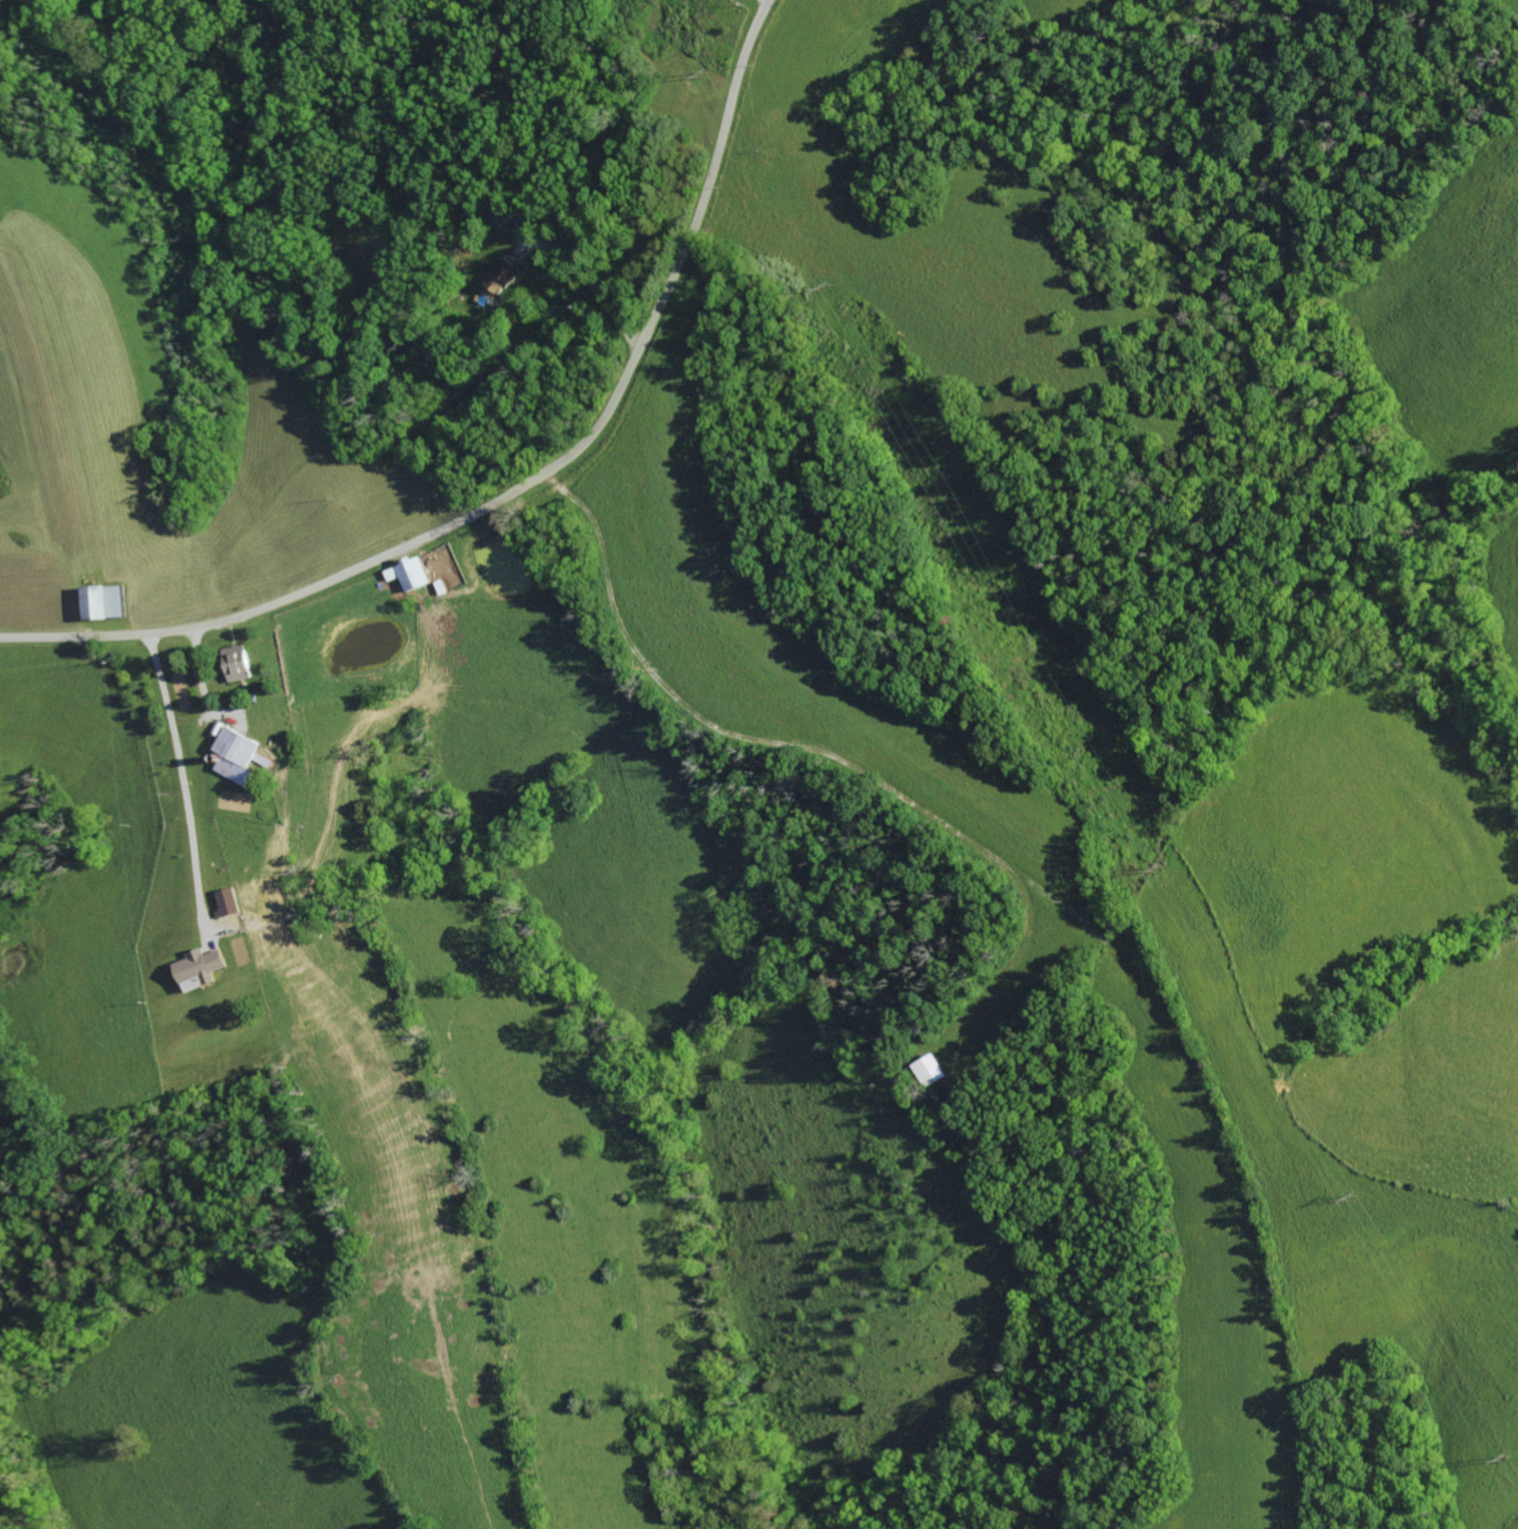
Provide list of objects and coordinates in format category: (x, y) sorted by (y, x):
power tower: (711, 72)
power tower: (834, 280)
road: (591, 282)
road: (527, 487)
building: (412, 573)
building: (108, 602)
building: (240, 663)
building: (239, 755)
building: (230, 902)
building: (200, 969)
power tower: (1363, 1192)
power tower: (1508, 1454)

